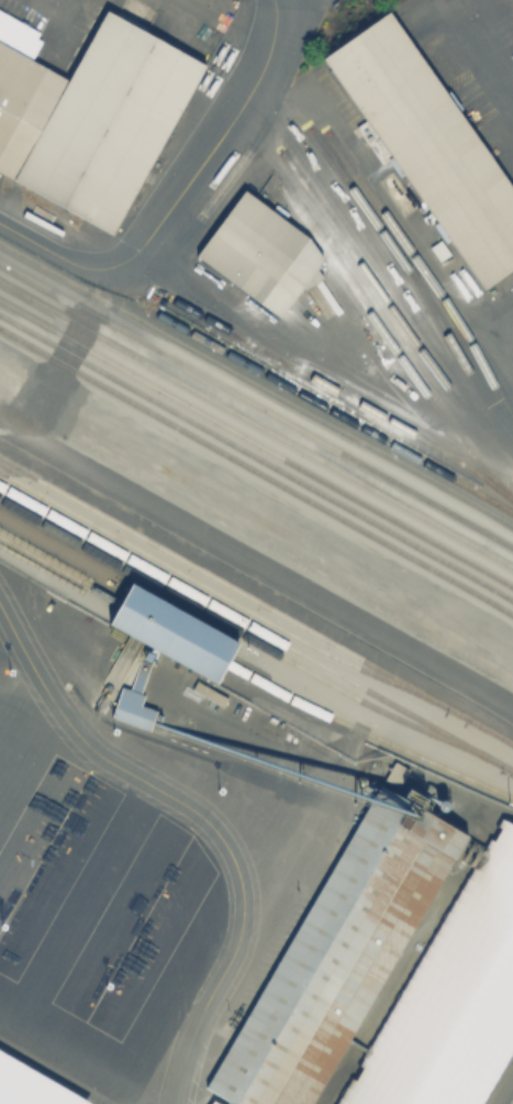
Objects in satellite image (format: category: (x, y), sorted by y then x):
road: (292, 11)
road: (470, 54)
building: (93, 119)
building: (431, 145)
road: (177, 194)
building: (266, 263)
railway: (424, 274)
railway: (413, 280)
railway: (387, 309)
railway: (388, 342)
road: (319, 362)
railway: (191, 369)
railway: (255, 386)
railway: (341, 394)
railway: (256, 426)
railway: (256, 444)
railway: (411, 455)
railway: (256, 456)
railway: (257, 471)
railway: (448, 511)
railway: (58, 568)
railway: (257, 583)
railway: (214, 590)
railway: (256, 600)
railway: (256, 627)
building: (170, 631)
railway: (171, 631)
railway: (254, 640)
railway: (367, 732)
road: (204, 821)
building: (337, 958)
building: (451, 1000)
building: (27, 1088)

